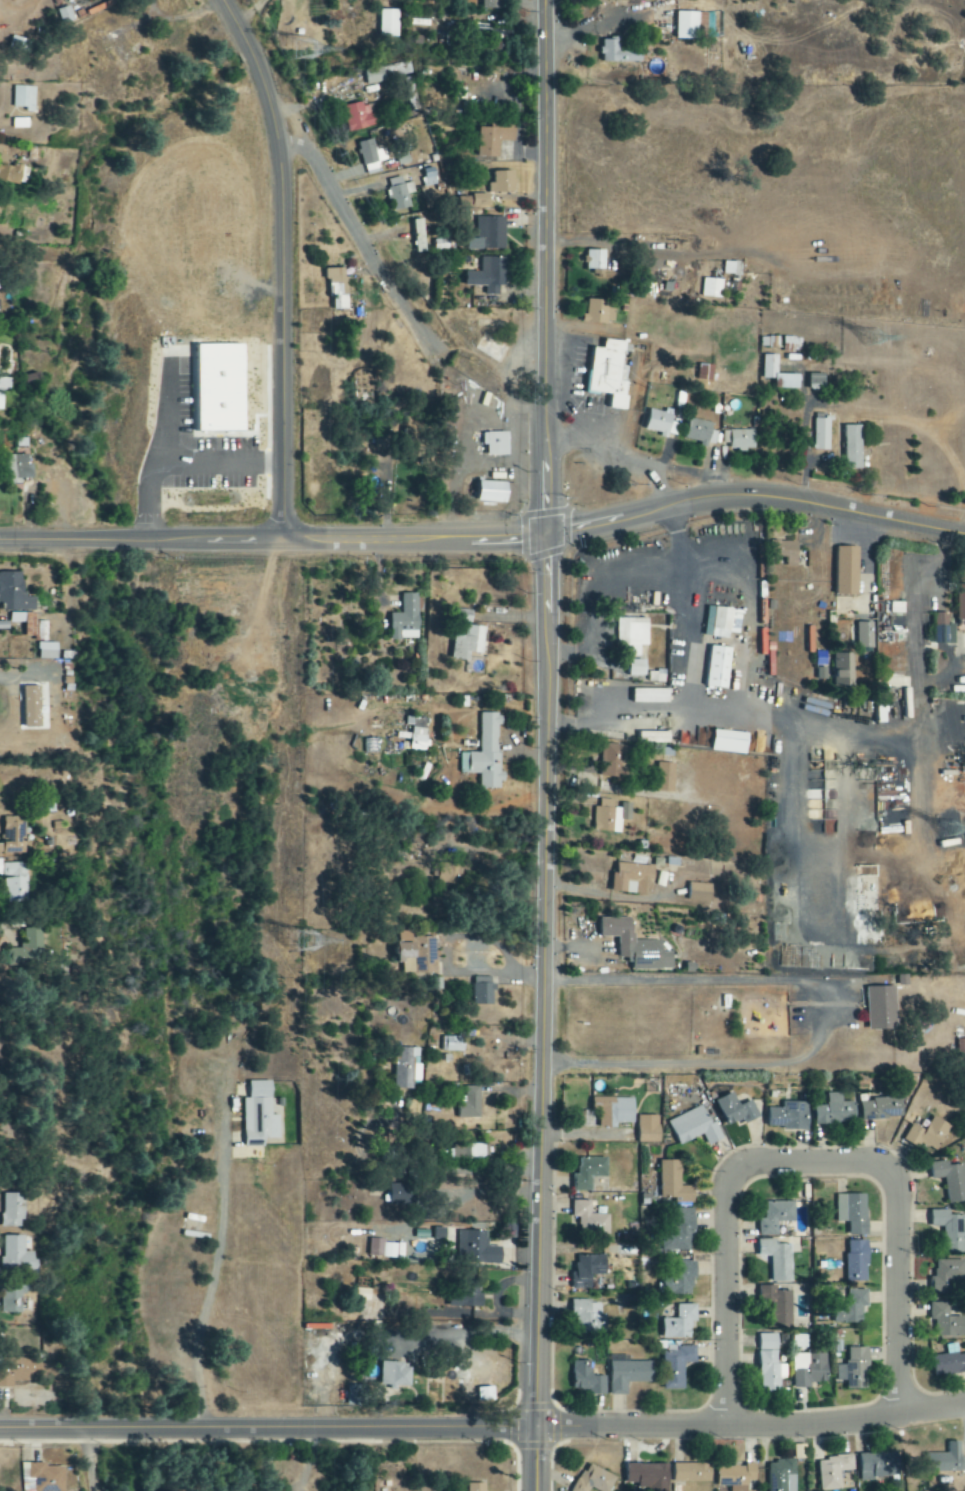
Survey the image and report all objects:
building: (491, 4)
building: (389, 24)
building: (687, 27)
power tower: (293, 49)
building: (620, 54)
building: (387, 73)
building: (24, 97)
building: (360, 116)
building: (494, 138)
building: (371, 155)
building: (10, 174)
building: (502, 182)
building: (400, 193)
building: (489, 234)
building: (418, 236)
road: (361, 239)
building: (595, 259)
road: (282, 263)
building: (732, 268)
building: (489, 275)
building: (338, 287)
building: (712, 288)
building: (600, 311)
power tower: (880, 339)
building: (791, 345)
building: (769, 365)
building: (706, 372)
building: (610, 373)
building: (32, 378)
building: (817, 381)
building: (3, 386)
building: (660, 423)
building: (697, 432)
building: (822, 434)
building: (409, 436)
building: (740, 439)
building: (496, 443)
building: (853, 447)
building: (493, 492)
road: (754, 496)
road: (272, 539)
building: (785, 551)
building: (848, 571)
building: (14, 593)
building: (405, 619)
building: (722, 622)
building: (31, 625)
building: (943, 630)
building: (637, 632)
building: (865, 636)
building: (467, 638)
building: (47, 651)
building: (719, 667)
building: (637, 668)
building: (835, 670)
building: (650, 696)
building: (32, 706)
building: (418, 734)
building: (653, 738)
building: (730, 742)
road: (544, 745)
building: (486, 754)
building: (614, 761)
building: (665, 777)
building: (610, 816)
power tower: (955, 828)
building: (15, 836)
building: (631, 878)
building: (16, 881)
power tower: (297, 942)
building: (32, 945)
building: (635, 946)
building: (420, 955)
building: (881, 1008)
road: (815, 1023)
building: (453, 1044)
building: (961, 1047)
building: (406, 1068)
building: (469, 1104)
building: (882, 1109)
building: (737, 1110)
building: (614, 1111)
building: (835, 1111)
building: (260, 1116)
building: (789, 1117)
building: (694, 1128)
building: (648, 1129)
building: (929, 1135)
building: (468, 1151)
road: (807, 1162)
road: (455, 1163)
building: (589, 1173)
building: (951, 1180)
building: (674, 1183)
building: (398, 1194)
building: (12, 1211)
building: (853, 1213)
building: (775, 1217)
building: (590, 1219)
building: (947, 1230)
building: (679, 1232)
building: (382, 1249)
building: (478, 1249)
building: (15, 1254)
building: (778, 1259)
building: (857, 1261)
building: (588, 1271)
building: (949, 1278)
building: (678, 1279)
building: (927, 1283)
building: (362, 1293)
building: (468, 1297)
road: (207, 1300)
building: (777, 1307)
building: (852, 1308)
building: (587, 1316)
building: (947, 1321)
building: (679, 1323)
building: (950, 1362)
building: (770, 1364)
building: (676, 1366)
building: (810, 1370)
building: (856, 1370)
building: (20, 1371)
building: (627, 1374)
building: (397, 1376)
building: (587, 1379)
building: (356, 1396)
road: (483, 1427)
road: (101, 1460)
building: (945, 1460)
building: (878, 1466)
building: (693, 1473)
building: (832, 1473)
building: (647, 1476)
building: (781, 1476)
building: (46, 1477)
building: (736, 1477)
building: (595, 1480)
building: (477, 1487)

